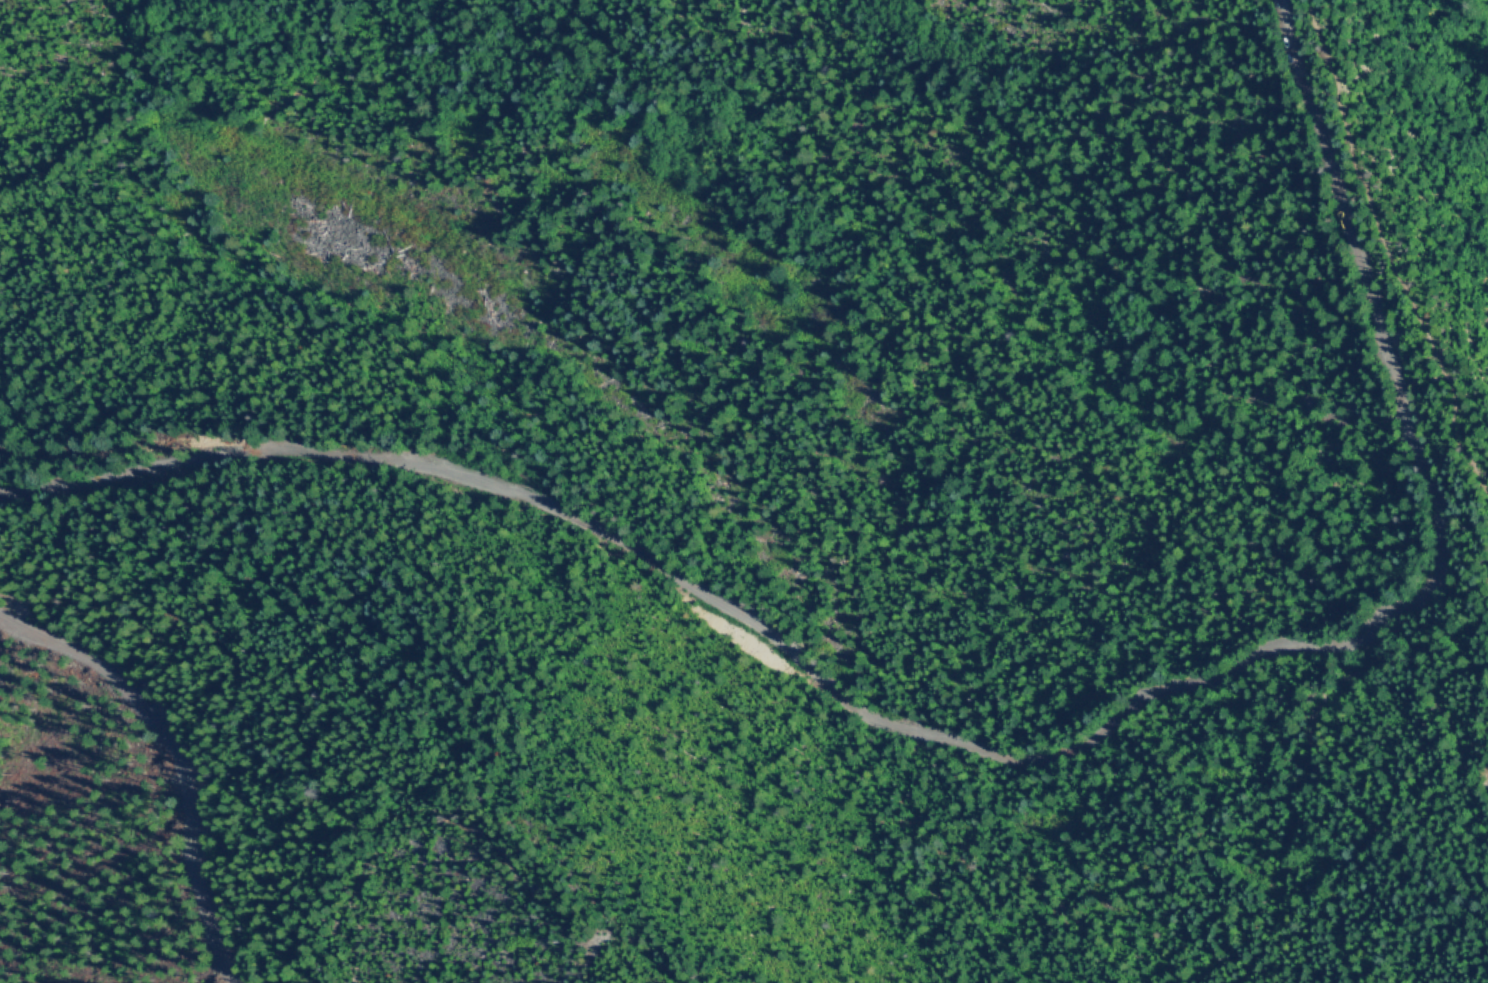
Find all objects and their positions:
road: (1390, 255)
road: (1003, 756)
road: (174, 758)
road: (1452, 770)

